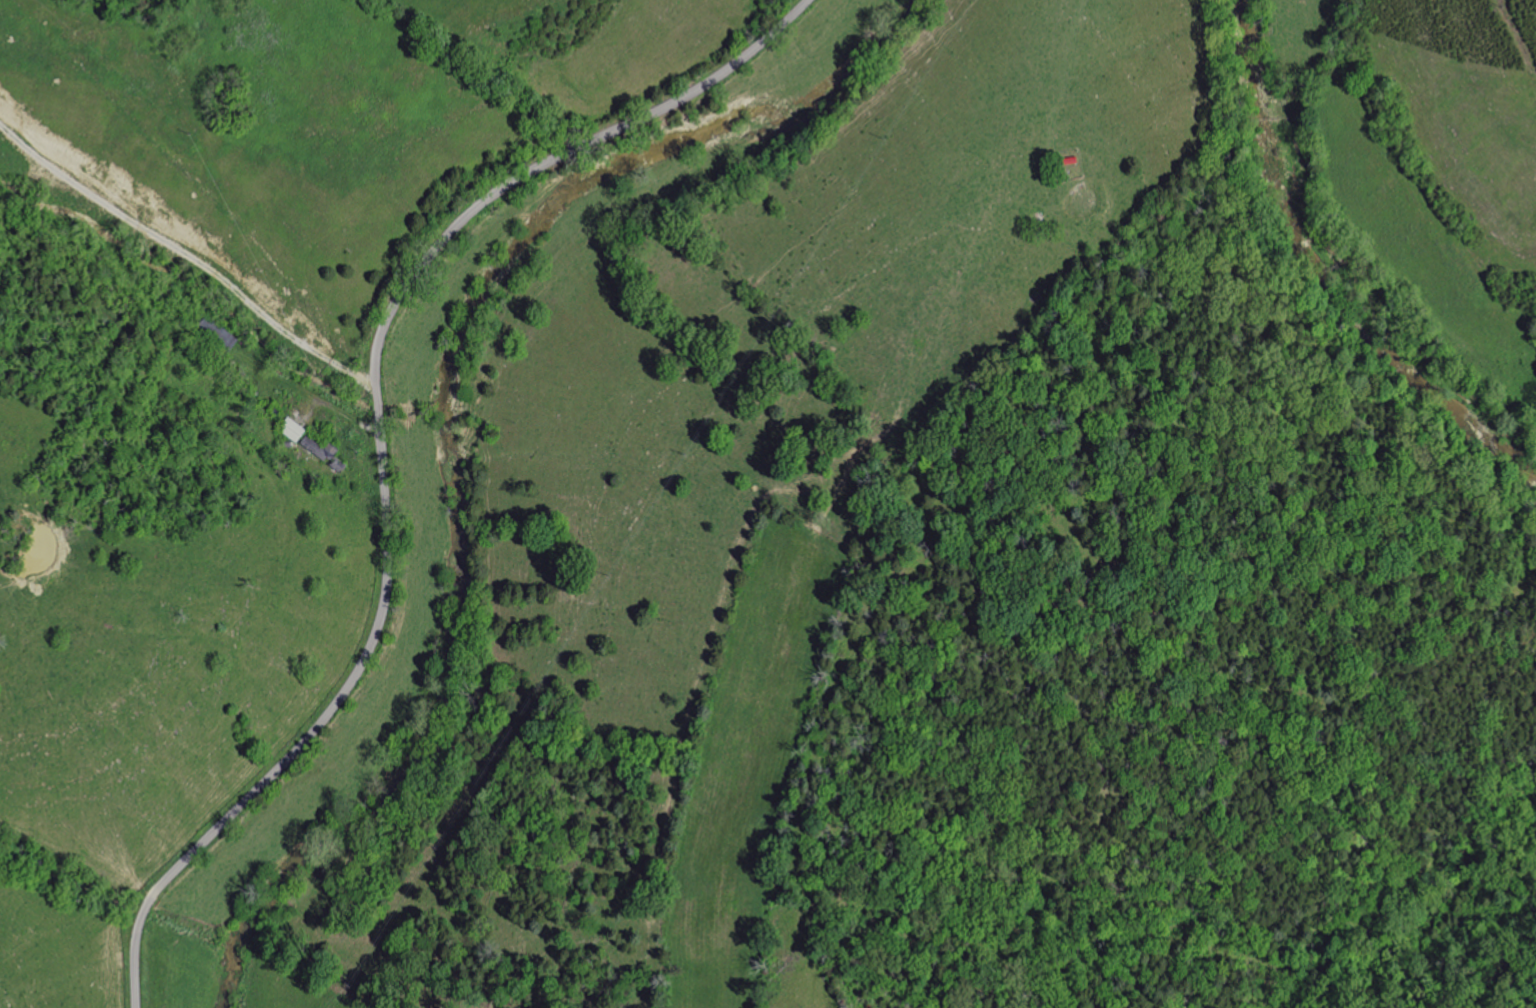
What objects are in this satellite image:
building: (294, 430)
road: (381, 438)
building: (327, 453)

